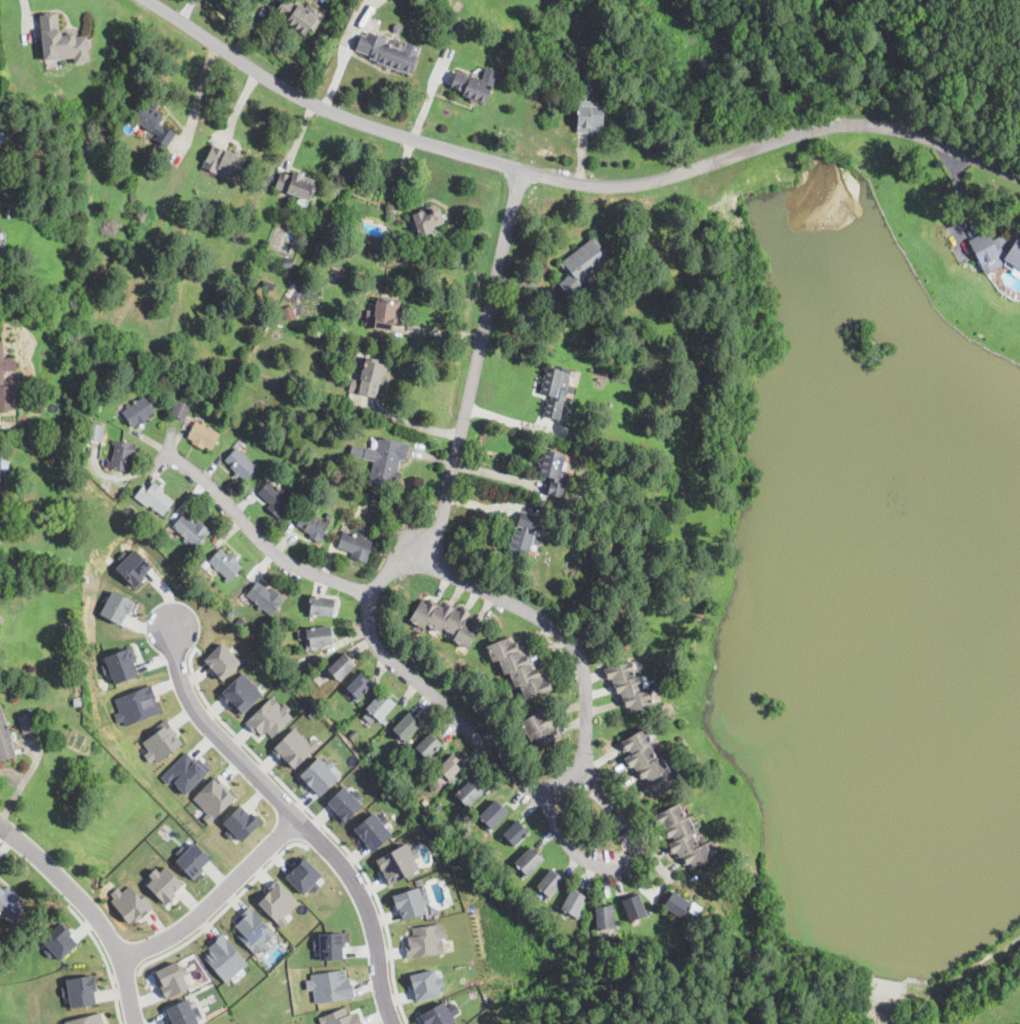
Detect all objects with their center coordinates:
building: (268, 0)
road: (186, 11)
building: (297, 16)
building: (452, 24)
building: (397, 27)
building: (62, 42)
park: (886, 50)
road: (342, 52)
building: (389, 53)
building: (472, 88)
building: (8, 108)
building: (590, 117)
building: (155, 124)
building: (2, 137)
building: (224, 161)
road: (571, 183)
building: (295, 185)
building: (426, 220)
building: (352, 223)
building: (995, 249)
building: (287, 263)
building: (583, 265)
building: (267, 286)
building: (286, 307)
building: (384, 314)
building: (339, 346)
building: (6, 364)
road: (478, 364)
building: (373, 376)
building: (556, 390)
building: (6, 398)
building: (181, 410)
building: (139, 412)
road: (514, 421)
road: (411, 422)
building: (95, 432)
building: (203, 436)
building: (123, 454)
building: (384, 460)
building: (3, 464)
building: (241, 464)
building: (553, 471)
building: (157, 499)
building: (275, 499)
building: (4, 508)
building: (329, 516)
building: (313, 525)
building: (192, 530)
building: (525, 536)
road: (259, 540)
building: (356, 545)
building: (185, 552)
building: (225, 564)
building: (134, 567)
building: (265, 598)
building: (320, 606)
building: (117, 607)
building: (228, 612)
building: (447, 621)
building: (316, 635)
road: (571, 642)
building: (222, 660)
building: (121, 665)
building: (340, 667)
building: (517, 667)
road: (418, 681)
building: (359, 686)
building: (629, 687)
building: (241, 692)
building: (135, 705)
building: (381, 707)
building: (269, 717)
building: (27, 723)
building: (407, 727)
building: (538, 730)
building: (354, 733)
building: (5, 740)
building: (161, 742)
building: (294, 747)
building: (430, 747)
building: (374, 759)
building: (649, 764)
building: (450, 767)
building: (184, 772)
building: (318, 776)
building: (469, 793)
building: (213, 799)
building: (344, 803)
building: (437, 807)
building: (493, 814)
road: (292, 819)
building: (241, 821)
building: (371, 831)
building: (515, 833)
building: (682, 836)
building: (193, 859)
building: (529, 861)
building: (396, 863)
road: (626, 866)
building: (303, 875)
building: (164, 883)
building: (550, 884)
road: (215, 900)
building: (130, 902)
building: (277, 902)
building: (409, 903)
building: (574, 903)
building: (10, 905)
building: (681, 906)
building: (634, 908)
road: (225, 910)
road: (88, 911)
building: (605, 917)
building: (253, 929)
building: (425, 940)
building: (60, 941)
building: (331, 945)
building: (224, 958)
road: (105, 960)
road: (125, 976)
building: (172, 978)
building: (426, 984)
building: (330, 985)
building: (82, 990)
building: (940, 993)
building: (182, 1012)
building: (438, 1014)
building: (339, 1017)
building: (86, 1019)

